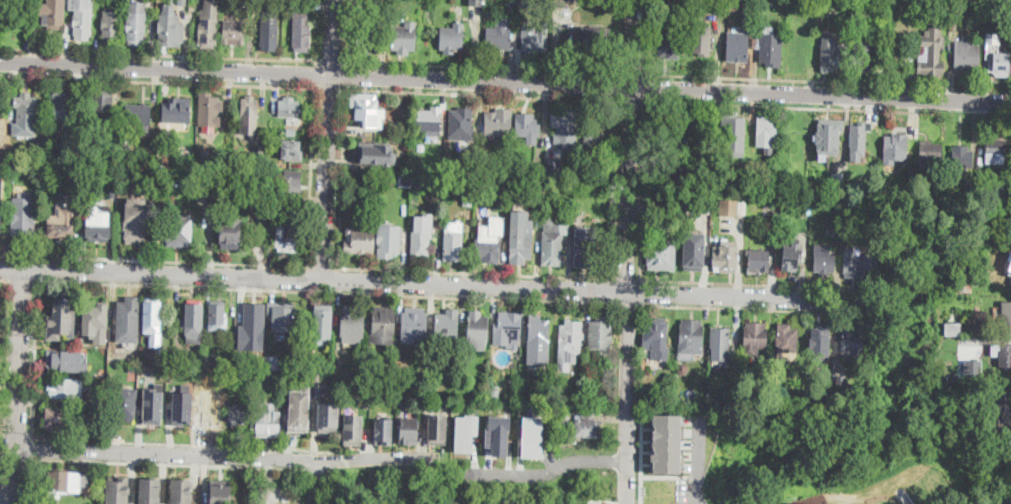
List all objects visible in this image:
building: (979, 0)
building: (475, 2)
building: (597, 2)
building: (665, 2)
building: (243, 3)
building: (562, 3)
building: (774, 3)
building: (528, 5)
building: (731, 5)
building: (713, 7)
building: (957, 13)
building: (52, 15)
building: (81, 17)
building: (1007, 19)
building: (136, 23)
building: (208, 23)
building: (110, 25)
building: (171, 29)
building: (269, 31)
building: (301, 31)
building: (233, 32)
building: (590, 36)
building: (366, 37)
building: (403, 38)
building: (452, 38)
building: (498, 38)
building: (701, 40)
building: (535, 41)
road: (633, 41)
building: (670, 43)
building: (737, 47)
building: (771, 51)
building: (930, 52)
road: (157, 53)
building: (831, 54)
building: (862, 56)
building: (966, 56)
road: (330, 59)
building: (999, 62)
road: (480, 65)
road: (315, 71)
road: (632, 71)
road: (315, 72)
road: (343, 73)
road: (792, 78)
road: (157, 79)
road: (615, 84)
road: (329, 85)
road: (647, 86)
road: (821, 92)
road: (478, 93)
road: (631, 99)
building: (103, 105)
road: (793, 105)
building: (249, 107)
building: (62, 108)
building: (289, 108)
building: (26, 109)
building: (209, 109)
building: (366, 109)
building: (179, 110)
building: (138, 117)
building: (430, 120)
building: (498, 122)
building: (462, 125)
building: (527, 125)
building: (709, 129)
building: (566, 130)
building: (766, 131)
building: (291, 132)
building: (734, 134)
building: (166, 135)
building: (828, 136)
road: (327, 138)
building: (859, 138)
building: (75, 142)
building: (670, 144)
building: (594, 146)
building: (995, 147)
building: (126, 148)
building: (691, 148)
building: (39, 149)
building: (894, 149)
building: (259, 150)
building: (291, 150)
building: (185, 151)
building: (74, 152)
building: (377, 152)
building: (60, 154)
building: (228, 155)
building: (930, 155)
building: (423, 158)
building: (961, 159)
building: (695, 163)
building: (12, 164)
building: (269, 164)
building: (366, 165)
building: (164, 166)
building: (486, 166)
building: (527, 168)
building: (537, 169)
building: (670, 171)
building: (604, 172)
building: (728, 173)
road: (310, 174)
building: (588, 174)
road: (340, 176)
building: (194, 177)
building: (255, 177)
building: (440, 178)
building: (837, 178)
building: (405, 179)
building: (705, 179)
building: (115, 180)
building: (419, 181)
building: (291, 182)
building: (851, 183)
building: (535, 185)
building: (971, 185)
road: (628, 186)
building: (1002, 187)
road: (613, 188)
road: (643, 189)
building: (949, 190)
building: (113, 192)
building: (468, 198)
building: (503, 201)
building: (275, 204)
building: (373, 206)
building: (732, 206)
building: (684, 210)
building: (23, 216)
building: (581, 217)
building: (538, 219)
building: (61, 222)
building: (98, 225)
building: (297, 225)
building: (135, 226)
building: (178, 230)
building: (835, 231)
building: (231, 233)
building: (741, 234)
building: (288, 236)
building: (420, 239)
building: (359, 240)
building: (389, 241)
building: (552, 243)
building: (453, 246)
building: (488, 247)
building: (521, 247)
building: (586, 247)
building: (661, 250)
building: (694, 250)
building: (791, 253)
building: (727, 257)
road: (153, 258)
building: (824, 259)
building: (762, 261)
building: (854, 263)
road: (8, 265)
road: (322, 265)
road: (474, 270)
building: (1009, 274)
road: (3, 276)
road: (307, 276)
road: (313, 276)
road: (21, 277)
road: (336, 277)
road: (625, 278)
road: (749, 282)
building: (959, 286)
road: (324, 289)
road: (611, 289)
building: (0, 290)
road: (640, 291)
road: (741, 294)
road: (625, 302)
road: (748, 306)
building: (128, 314)
building: (93, 317)
building: (281, 317)
building: (1005, 318)
building: (62, 319)
building: (217, 320)
building: (152, 321)
building: (321, 321)
building: (193, 322)
building: (414, 323)
building: (352, 324)
building: (383, 325)
building: (252, 327)
building: (447, 327)
building: (507, 329)
building: (953, 329)
building: (477, 330)
building: (538, 331)
building: (601, 333)
building: (571, 336)
building: (691, 336)
building: (656, 338)
building: (721, 338)
building: (755, 338)
building: (80, 341)
building: (820, 341)
building: (787, 342)
building: (851, 342)
road: (3, 343)
building: (163, 355)
building: (1004, 356)
road: (19, 357)
road: (33, 357)
building: (242, 359)
building: (211, 360)
building: (65, 361)
building: (276, 363)
building: (367, 363)
building: (306, 364)
building: (431, 366)
building: (683, 366)
building: (972, 367)
building: (134, 369)
building: (257, 372)
building: (512, 378)
building: (841, 380)
building: (364, 384)
building: (713, 385)
building: (297, 387)
building: (64, 388)
building: (495, 390)
building: (401, 392)
road: (626, 396)
building: (558, 398)
building: (688, 401)
building: (366, 403)
building: (125, 404)
building: (153, 404)
building: (715, 405)
building: (182, 407)
building: (314, 408)
building: (299, 410)
building: (1004, 412)
building: (165, 413)
building: (551, 413)
building: (236, 414)
building: (210, 415)
building: (328, 416)
building: (565, 417)
building: (56, 418)
building: (266, 419)
building: (587, 426)
building: (353, 429)
building: (436, 429)
building: (408, 430)
building: (384, 431)
building: (471, 431)
building: (498, 434)
building: (530, 435)
road: (184, 442)
building: (666, 442)
building: (1010, 442)
road: (30, 447)
road: (219, 452)
road: (641, 460)
road: (699, 460)
road: (164, 462)
road: (546, 468)
road: (664, 475)
road: (13, 476)
road: (28, 481)
building: (61, 482)
building: (118, 490)
building: (149, 490)
building: (182, 490)
building: (220, 491)
road: (6, 498)
building: (583, 503)

